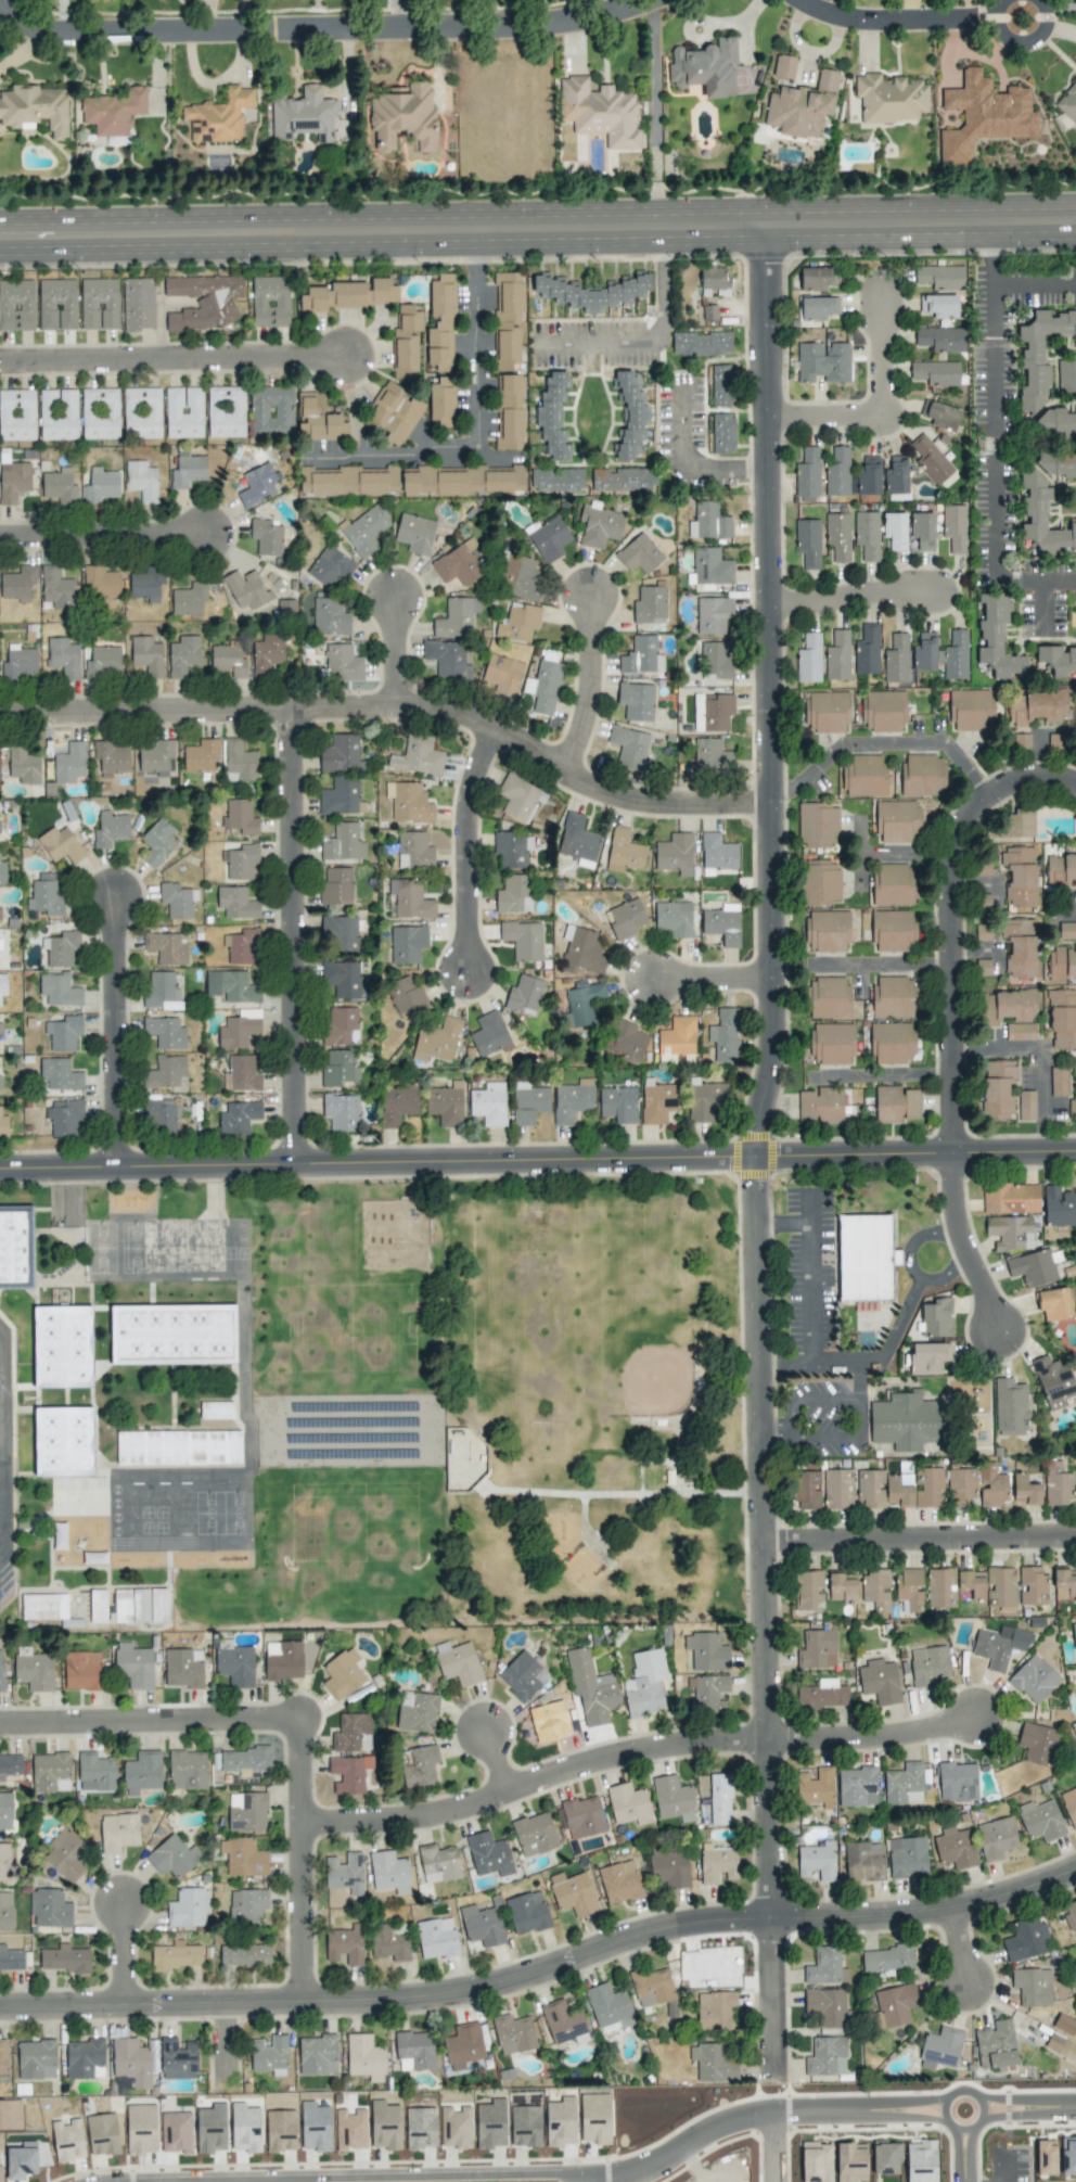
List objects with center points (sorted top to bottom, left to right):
road: (894, 26)
road: (320, 34)
building: (783, 66)
building: (705, 67)
road: (654, 91)
building: (889, 98)
building: (1067, 103)
building: (802, 106)
building: (35, 109)
building: (113, 112)
building: (599, 112)
building: (303, 115)
building: (983, 115)
building: (218, 116)
building: (403, 116)
road: (656, 203)
road: (866, 221)
road: (328, 231)
building: (940, 277)
building: (714, 279)
building: (818, 279)
road: (1035, 282)
building: (591, 292)
building: (348, 295)
building: (204, 301)
building: (270, 302)
building: (56, 304)
building: (99, 304)
building: (138, 304)
building: (16, 305)
building: (939, 306)
building: (817, 307)
building: (508, 319)
building: (440, 322)
building: (940, 339)
building: (406, 342)
building: (701, 343)
road: (656, 345)
road: (175, 352)
building: (1039, 354)
building: (822, 362)
building: (936, 372)
building: (1066, 374)
building: (720, 385)
road: (879, 396)
building: (441, 404)
building: (226, 411)
building: (270, 411)
building: (510, 411)
building: (141, 412)
building: (183, 412)
building: (99, 413)
building: (393, 413)
building: (16, 414)
building: (57, 414)
building: (940, 414)
building: (629, 416)
building: (552, 418)
building: (318, 419)
building: (1055, 423)
road: (477, 424)
building: (722, 433)
road: (995, 439)
building: (930, 459)
building: (1056, 463)
road: (686, 465)
building: (187, 470)
building: (837, 470)
building: (807, 472)
building: (869, 475)
building: (896, 475)
building: (141, 480)
building: (462, 480)
building: (556, 480)
building: (622, 480)
building: (347, 481)
building: (13, 482)
building: (258, 485)
building: (57, 486)
building: (100, 487)
building: (1042, 519)
building: (708, 522)
building: (599, 525)
building: (955, 527)
road: (103, 531)
building: (364, 531)
building: (895, 531)
building: (922, 531)
building: (414, 533)
building: (867, 535)
building: (267, 536)
building: (837, 536)
building: (548, 538)
building: (807, 543)
building: (639, 554)
building: (458, 563)
building: (710, 566)
building: (329, 567)
building: (521, 576)
building: (100, 582)
building: (17, 584)
building: (146, 584)
building: (56, 588)
building: (245, 589)
road: (854, 590)
building: (189, 599)
building: (649, 605)
road: (1046, 608)
building: (713, 615)
building: (330, 617)
building: (456, 617)
building: (518, 622)
building: (997, 638)
road: (396, 649)
building: (867, 650)
building: (267, 654)
building: (941, 654)
building: (146, 655)
building: (183, 655)
building: (641, 655)
building: (837, 655)
building: (63, 658)
building: (447, 659)
building: (808, 659)
building: (896, 659)
building: (716, 660)
building: (228, 661)
building: (1055, 661)
building: (18, 663)
building: (103, 663)
building: (343, 663)
building: (501, 675)
road: (591, 681)
building: (543, 685)
building: (636, 701)
road: (397, 704)
building: (1035, 706)
building: (971, 710)
building: (883, 711)
building: (712, 712)
building: (825, 712)
building: (1075, 731)
building: (1021, 741)
road: (884, 744)
building: (629, 748)
building: (341, 754)
building: (710, 754)
building: (201, 755)
building: (418, 756)
building: (110, 758)
building: (157, 758)
building: (239, 762)
building: (69, 763)
building: (23, 765)
building: (863, 775)
building: (922, 775)
building: (341, 796)
building: (518, 799)
building: (408, 802)
building: (240, 817)
building: (897, 821)
building: (817, 825)
building: (1012, 826)
building: (110, 829)
building: (577, 840)
building: (157, 842)
building: (343, 843)
building: (60, 844)
road: (469, 844)
building: (512, 848)
building: (413, 851)
building: (623, 852)
building: (717, 852)
road: (905, 852)
building: (675, 854)
building: (241, 860)
building: (983, 868)
building: (1060, 868)
building: (2, 872)
building: (1019, 876)
building: (820, 882)
building: (894, 884)
building: (336, 886)
building: (46, 894)
building: (513, 894)
building: (177, 899)
building: (410, 899)
building: (235, 903)
building: (985, 904)
building: (0, 913)
building: (625, 918)
building: (674, 918)
road: (949, 921)
building: (722, 923)
building: (893, 930)
building: (827, 931)
building: (1066, 931)
building: (983, 932)
building: (340, 934)
road: (295, 935)
building: (523, 940)
building: (407, 943)
building: (242, 946)
building: (1020, 947)
building: (62, 948)
building: (166, 948)
building: (3, 949)
building: (581, 950)
road: (973, 955)
building: (1061, 962)
road: (881, 965)
building: (983, 967)
road: (716, 977)
building: (342, 979)
building: (3, 984)
building: (231, 986)
building: (59, 990)
building: (161, 992)
building: (406, 995)
building: (524, 995)
building: (828, 997)
building: (893, 997)
building: (581, 1004)
building: (1007, 1006)
building: (1062, 1019)
building: (340, 1025)
building: (239, 1029)
building: (1020, 1031)
building: (164, 1032)
building: (63, 1033)
road: (118, 1033)
building: (489, 1034)
building: (725, 1035)
building: (677, 1037)
building: (436, 1041)
building: (626, 1042)
building: (831, 1043)
building: (892, 1043)
road: (1035, 1060)
building: (338, 1069)
building: (165, 1071)
building: (1074, 1071)
building: (243, 1073)
road: (881, 1073)
building: (59, 1074)
building: (0, 1082)
building: (1059, 1082)
building: (998, 1088)
building: (572, 1100)
building: (704, 1101)
building: (528, 1102)
building: (657, 1102)
building: (445, 1103)
building: (488, 1103)
building: (618, 1103)
building: (397, 1105)
building: (895, 1105)
building: (820, 1106)
building: (1026, 1106)
building: (1072, 1107)
building: (341, 1112)
building: (63, 1116)
building: (162, 1116)
building: (238, 1116)
building: (3, 1125)
road: (759, 1149)
road: (538, 1162)
building: (1010, 1198)
building: (1058, 1207)
road: (785, 1223)
building: (1009, 1233)
road: (918, 1237)
road: (966, 1245)
building: (15, 1247)
building: (864, 1256)
building: (1034, 1267)
road: (810, 1275)
building: (1054, 1303)
building: (936, 1317)
building: (172, 1335)
road: (885, 1345)
building: (62, 1347)
building: (927, 1357)
road: (858, 1379)
building: (1053, 1381)
park: (594, 1398)
road: (808, 1400)
building: (1009, 1406)
building: (216, 1409)
building: (906, 1421)
road: (774, 1434)
road: (843, 1434)
building: (63, 1441)
building: (178, 1447)
building: (1056, 1484)
building: (976, 1486)
building: (914, 1488)
building: (837, 1489)
building: (870, 1489)
building: (806, 1490)
building: (1024, 1490)
road: (920, 1537)
building: (972, 1583)
building: (1064, 1584)
building: (1032, 1585)
building: (1000, 1586)
building: (842, 1587)
building: (876, 1588)
building: (909, 1588)
building: (940, 1588)
building: (808, 1590)
building: (158, 1605)
building: (98, 1606)
building: (131, 1606)
building: (44, 1607)
building: (1074, 1639)
building: (999, 1646)
building: (817, 1649)
building: (706, 1651)
building: (282, 1660)
building: (457, 1662)
building: (133, 1666)
building: (234, 1666)
building: (927, 1666)
building: (182, 1668)
building: (33, 1669)
building: (82, 1670)
building: (1, 1671)
building: (343, 1673)
building: (522, 1675)
building: (1034, 1679)
building: (879, 1681)
building: (644, 1683)
building: (590, 1687)
building: (708, 1693)
building: (821, 1695)
building: (417, 1711)
building: (550, 1719)
road: (150, 1721)
building: (351, 1733)
road: (870, 1734)
building: (1037, 1743)
road: (498, 1760)
building: (245, 1761)
building: (10, 1764)
building: (418, 1765)
building: (188, 1770)
building: (50, 1772)
building: (95, 1772)
building: (141, 1772)
building: (348, 1774)
road: (534, 1779)
building: (957, 1782)
building: (904, 1785)
building: (815, 1787)
building: (857, 1787)
building: (672, 1799)
building: (720, 1799)
building: (628, 1804)
building: (1069, 1805)
building: (5, 1811)
building: (246, 1812)
building: (581, 1816)
building: (1040, 1820)
building: (117, 1832)
building: (534, 1834)
building: (996, 1838)
building: (955, 1848)
building: (488, 1854)
building: (66, 1855)
building: (172, 1856)
building: (243, 1856)
building: (907, 1856)
road: (302, 1858)
building: (817, 1861)
building: (862, 1861)
building: (438, 1863)
building: (716, 1863)
building: (7, 1865)
building: (669, 1865)
building: (389, 1872)
building: (345, 1873)
building: (619, 1881)
building: (572, 1893)
building: (246, 1906)
building: (188, 1907)
building: (49, 1909)
building: (5, 1911)
building: (526, 1912)
building: (1071, 1916)
building: (482, 1925)
building: (436, 1938)
building: (1026, 1939)
building: (389, 1941)
road: (958, 1941)
building: (345, 1945)
road: (123, 1950)
building: (244, 1954)
building: (177, 1955)
building: (64, 1958)
building: (886, 1958)
building: (11, 1960)
road: (542, 1965)
building: (824, 1966)
building: (653, 1985)
building: (1032, 1986)
building: (825, 2005)
building: (894, 2005)
building: (607, 2007)
building: (715, 2011)
building: (563, 2020)
building: (1064, 2025)
building: (513, 2034)
building: (996, 2044)
road: (225, 2045)
building: (463, 2045)
building: (941, 2046)
building: (1061, 2046)
building: (414, 2051)
building: (270, 2055)
building: (317, 2055)
building: (825, 2056)
building: (3, 2057)
building: (364, 2057)
building: (84, 2058)
building: (177, 2058)
building: (36, 2059)
building: (130, 2060)
building: (714, 2062)
road: (1030, 2107)
building: (11, 2115)
road: (751, 2116)
building: (595, 2118)
building: (561, 2122)
building: (490, 2123)
building: (384, 2126)
building: (525, 2126)
building: (315, 2127)
building: (210, 2128)
building: (245, 2128)
building: (420, 2128)
building: (456, 2128)
road: (974, 2128)
building: (140, 2129)
building: (349, 2129)
building: (176, 2131)
building: (280, 2131)
building: (102, 2133)
building: (67, 2140)
road: (777, 2146)
road: (969, 2155)
building: (1068, 2155)
building: (1046, 2157)
building: (885, 2158)
building: (21, 2160)
building: (816, 2161)
building: (850, 2161)
building: (921, 2161)
building: (0, 2167)
road: (590, 2181)

